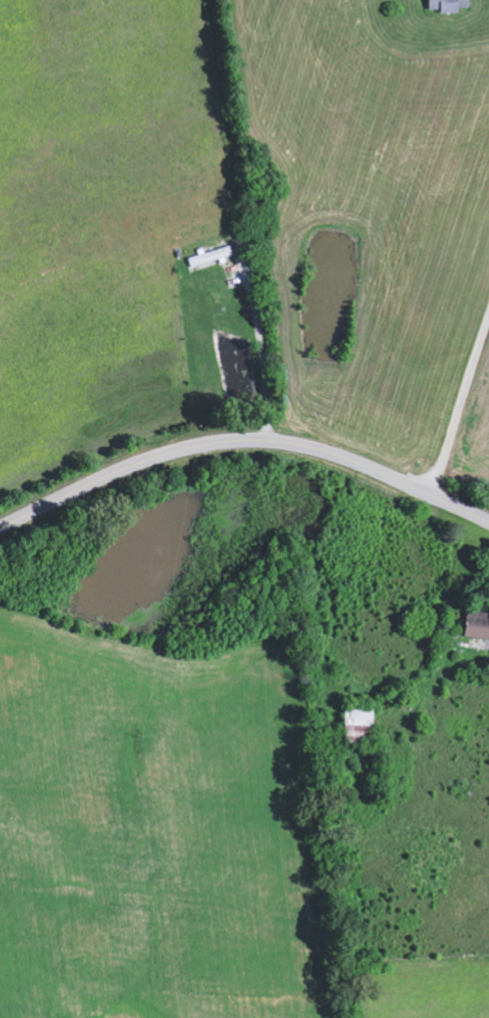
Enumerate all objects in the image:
building: (450, 5)
building: (213, 256)
road: (459, 406)
road: (243, 445)
building: (479, 625)

